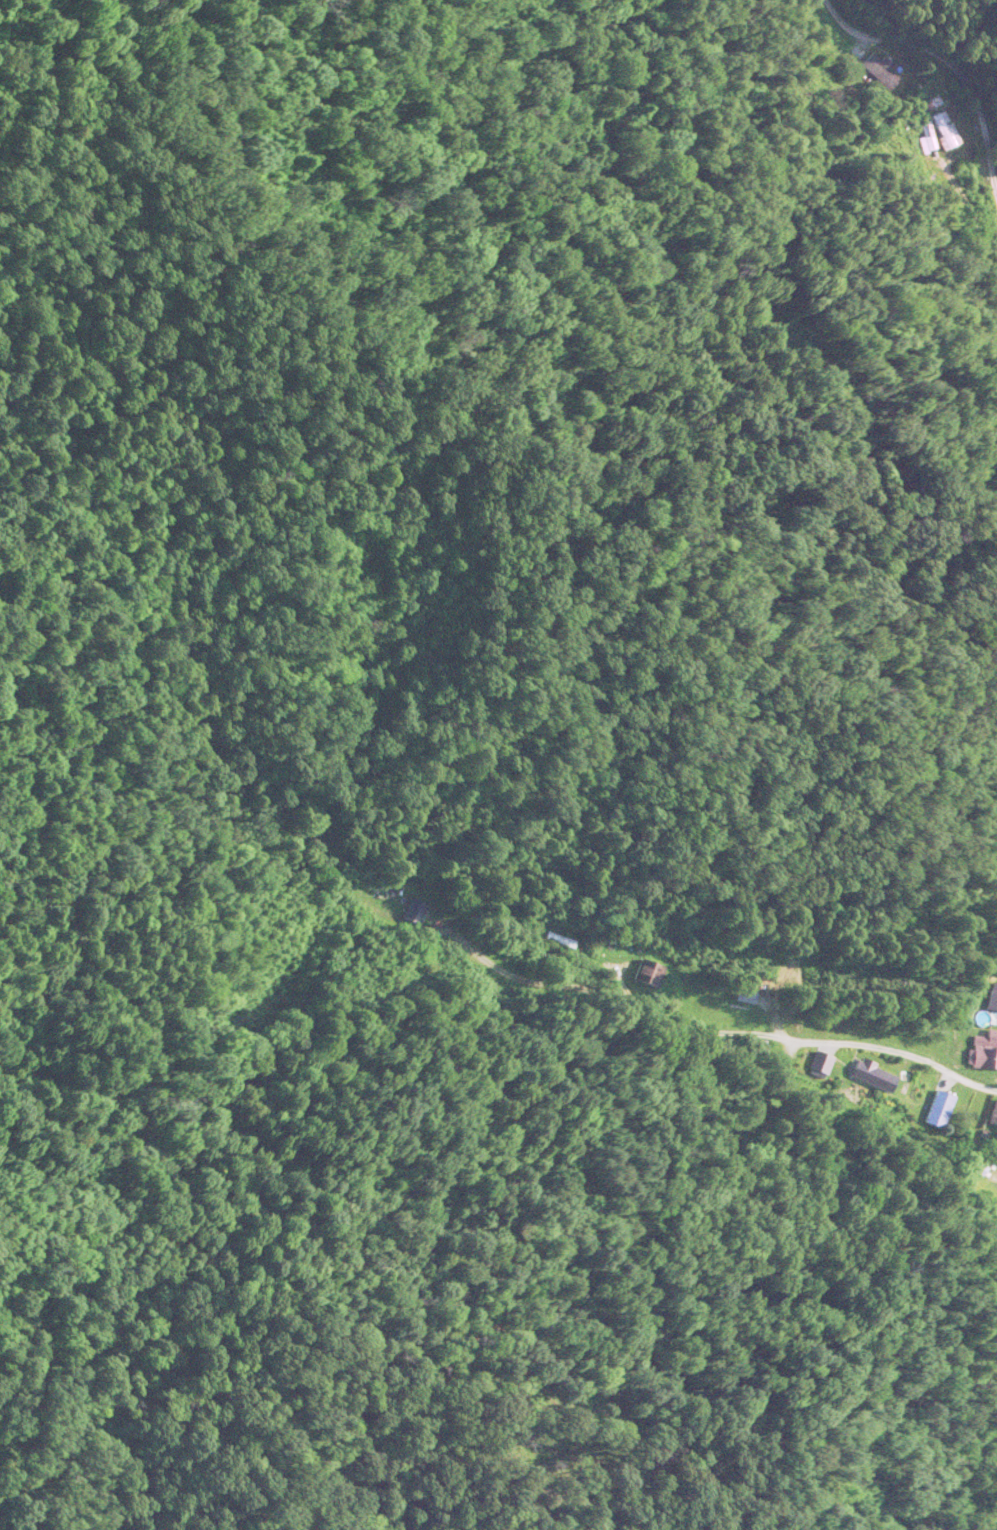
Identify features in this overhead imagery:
road: (952, 62)
road: (780, 1039)

